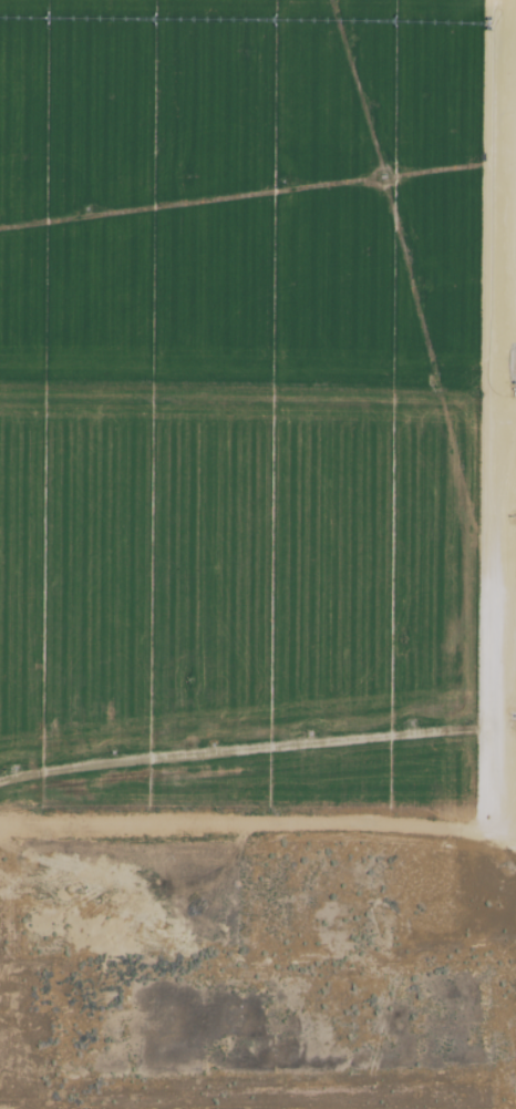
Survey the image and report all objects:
crop: (240, 195)

